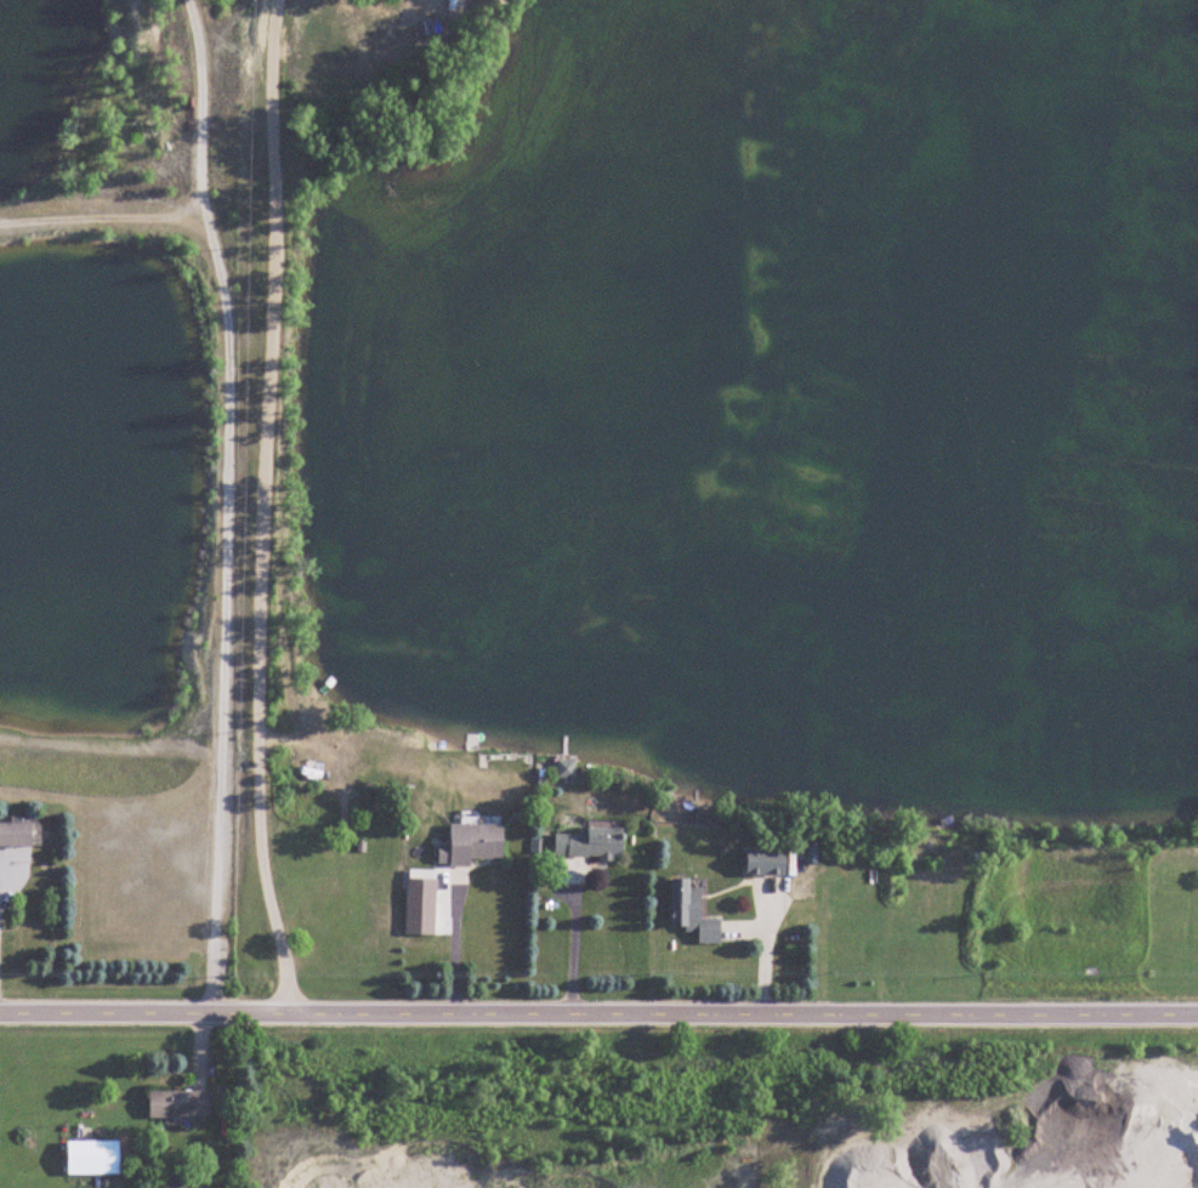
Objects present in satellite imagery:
road: (226, 505)
road: (263, 508)
building: (16, 835)
building: (590, 840)
building: (475, 843)
building: (767, 860)
building: (693, 913)
road: (574, 944)
road: (455, 950)
road: (598, 1014)
building: (180, 1104)

